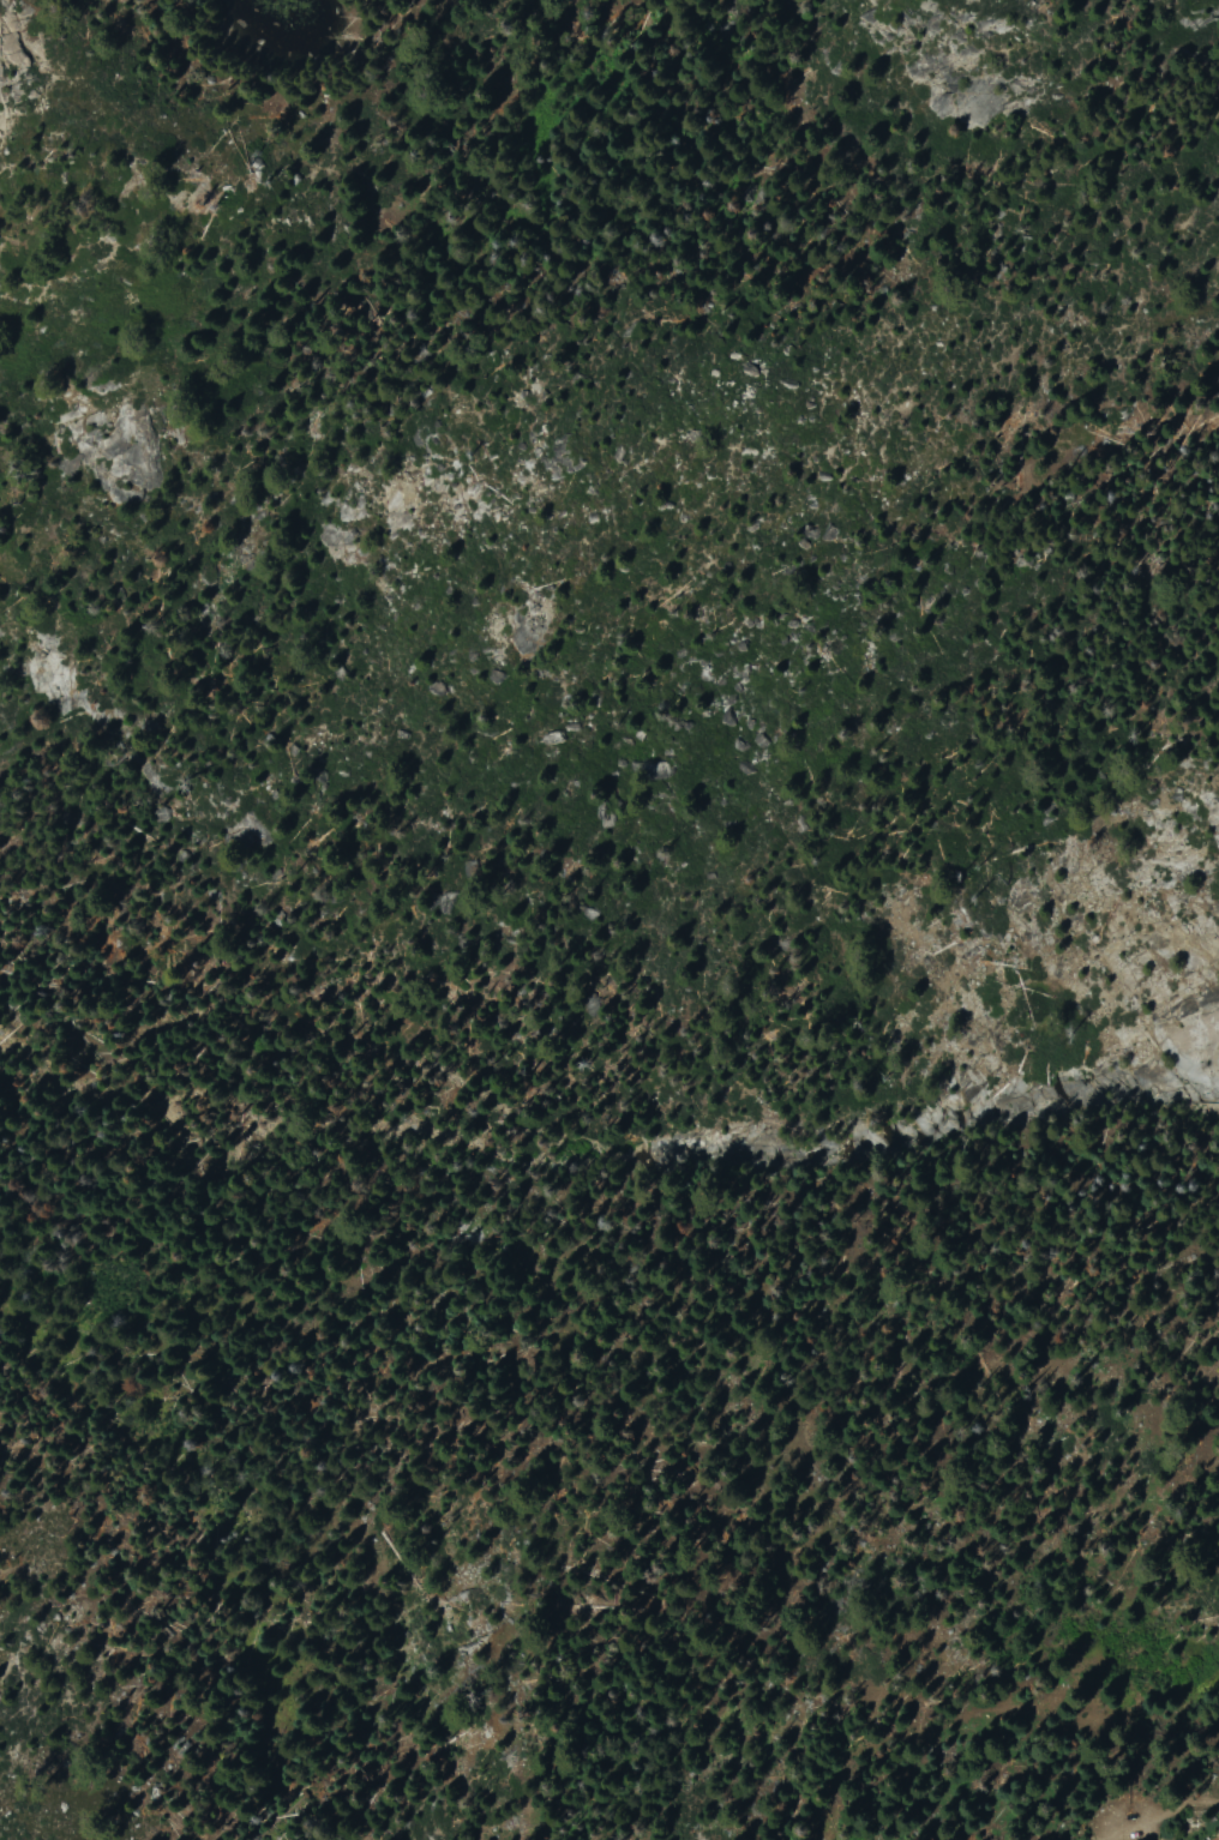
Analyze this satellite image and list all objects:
road: (1160, 1811)

